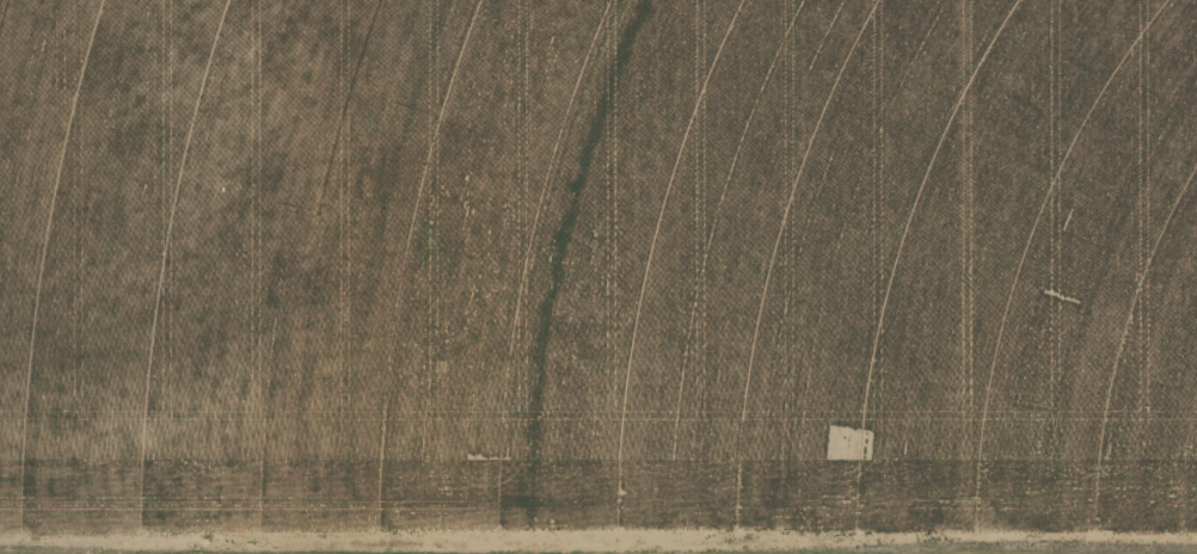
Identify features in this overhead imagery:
road: (867, 277)

